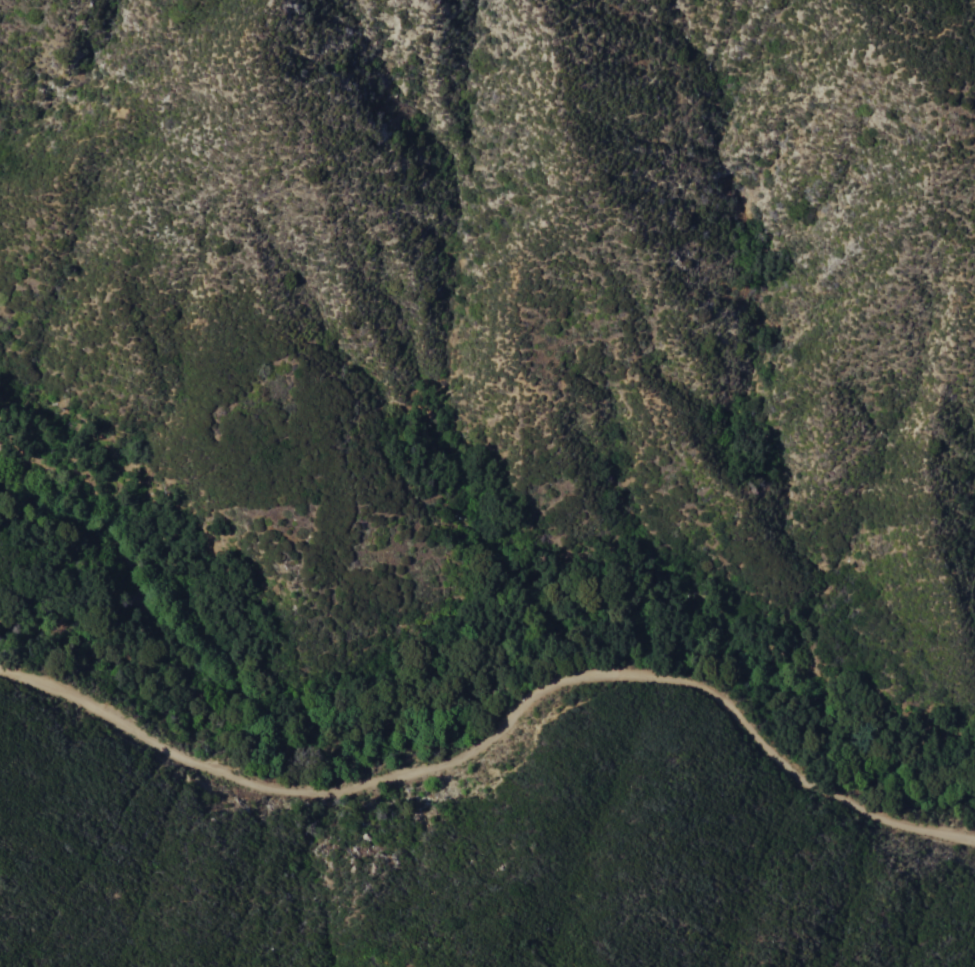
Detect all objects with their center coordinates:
road: (504, 731)

